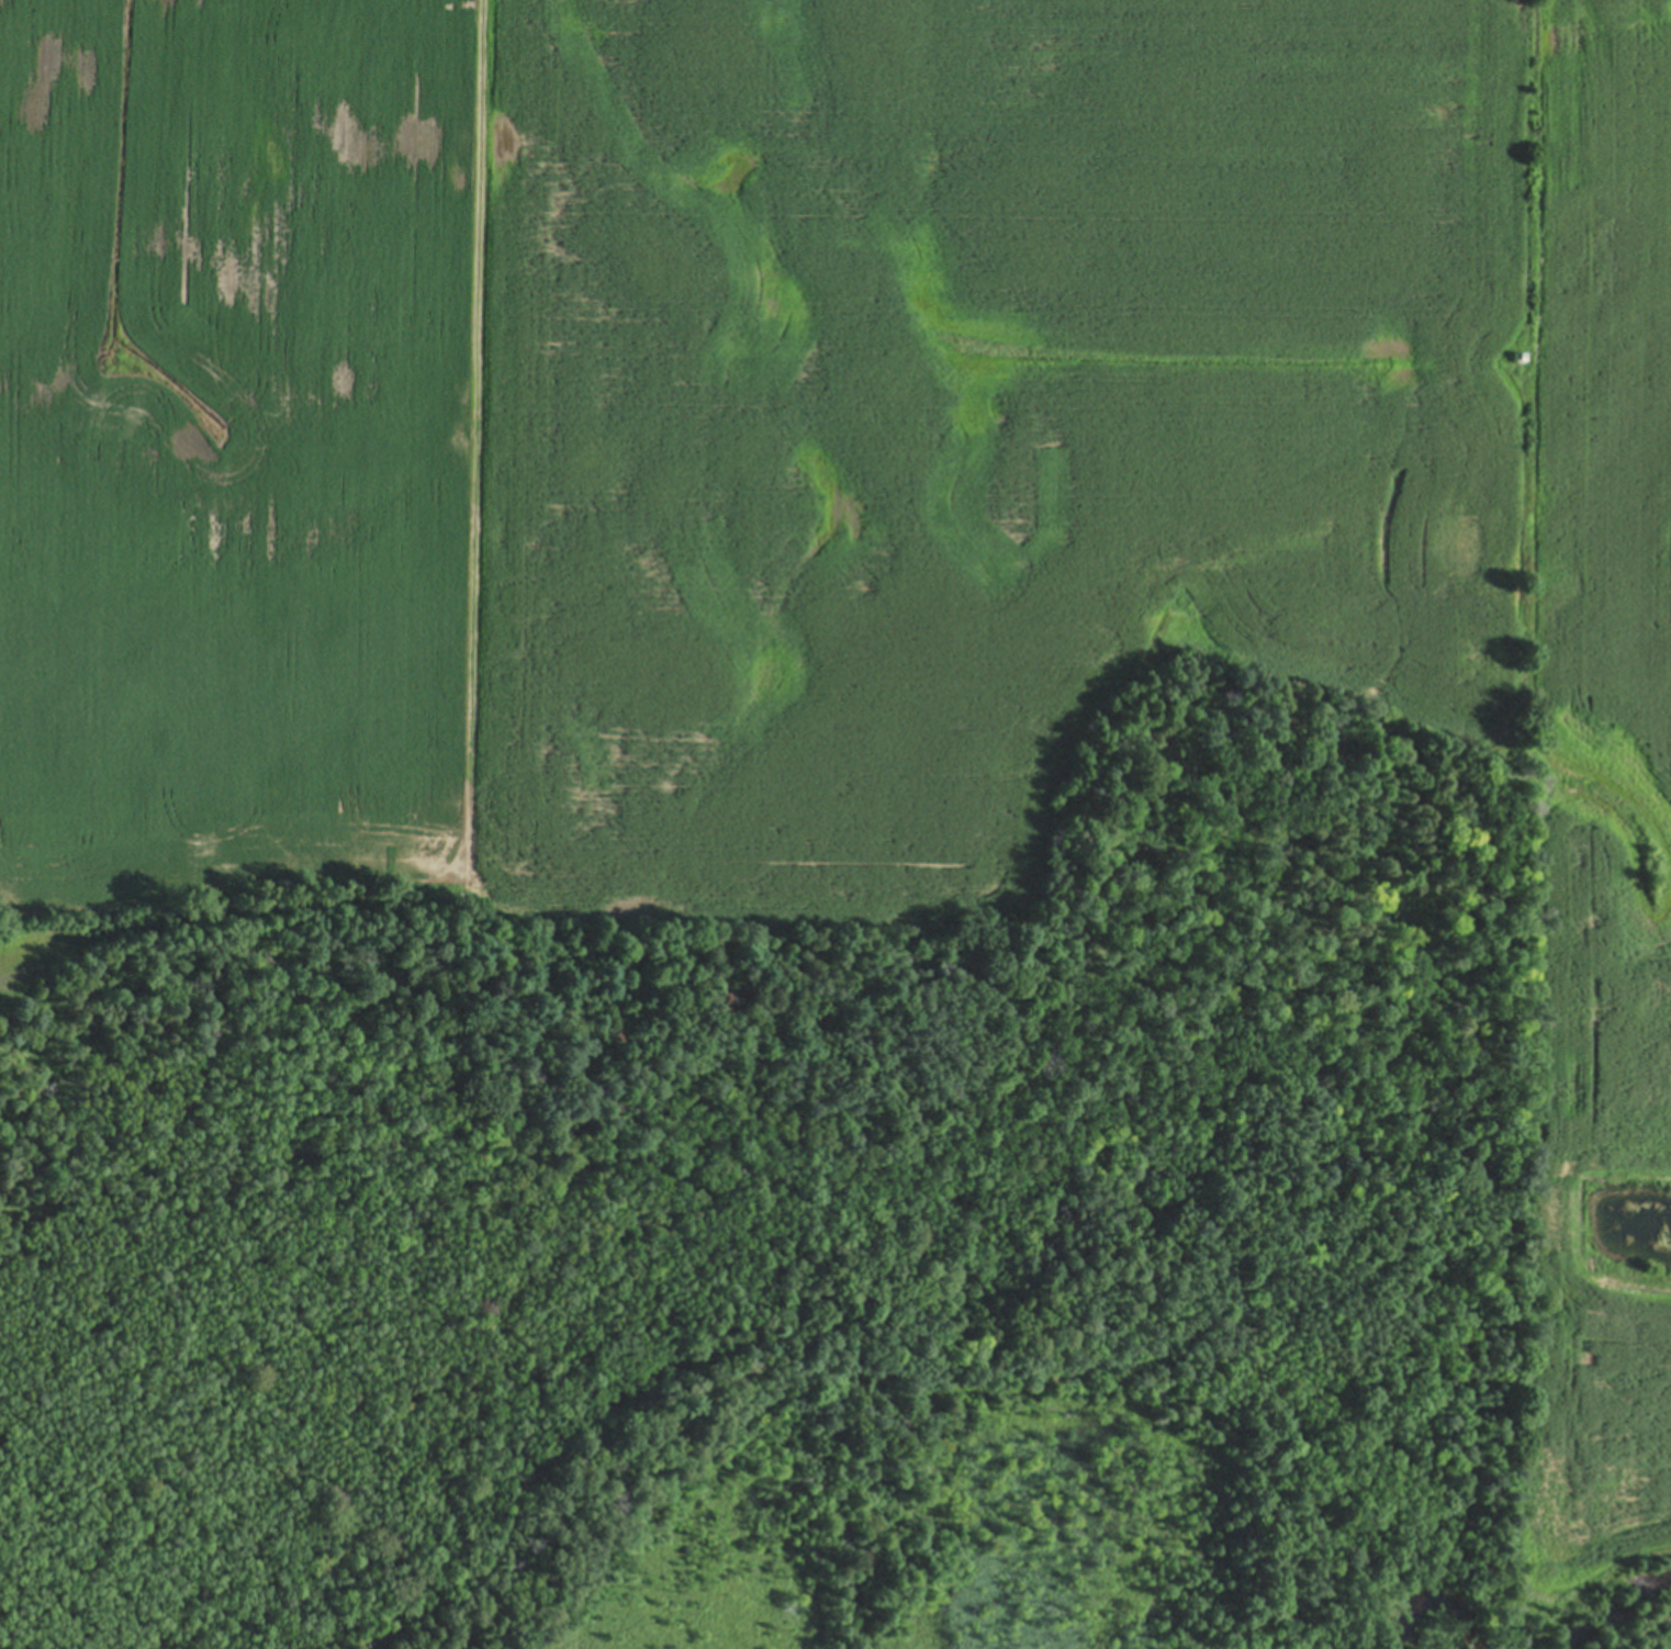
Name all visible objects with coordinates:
quarry: (1601, 1223)

